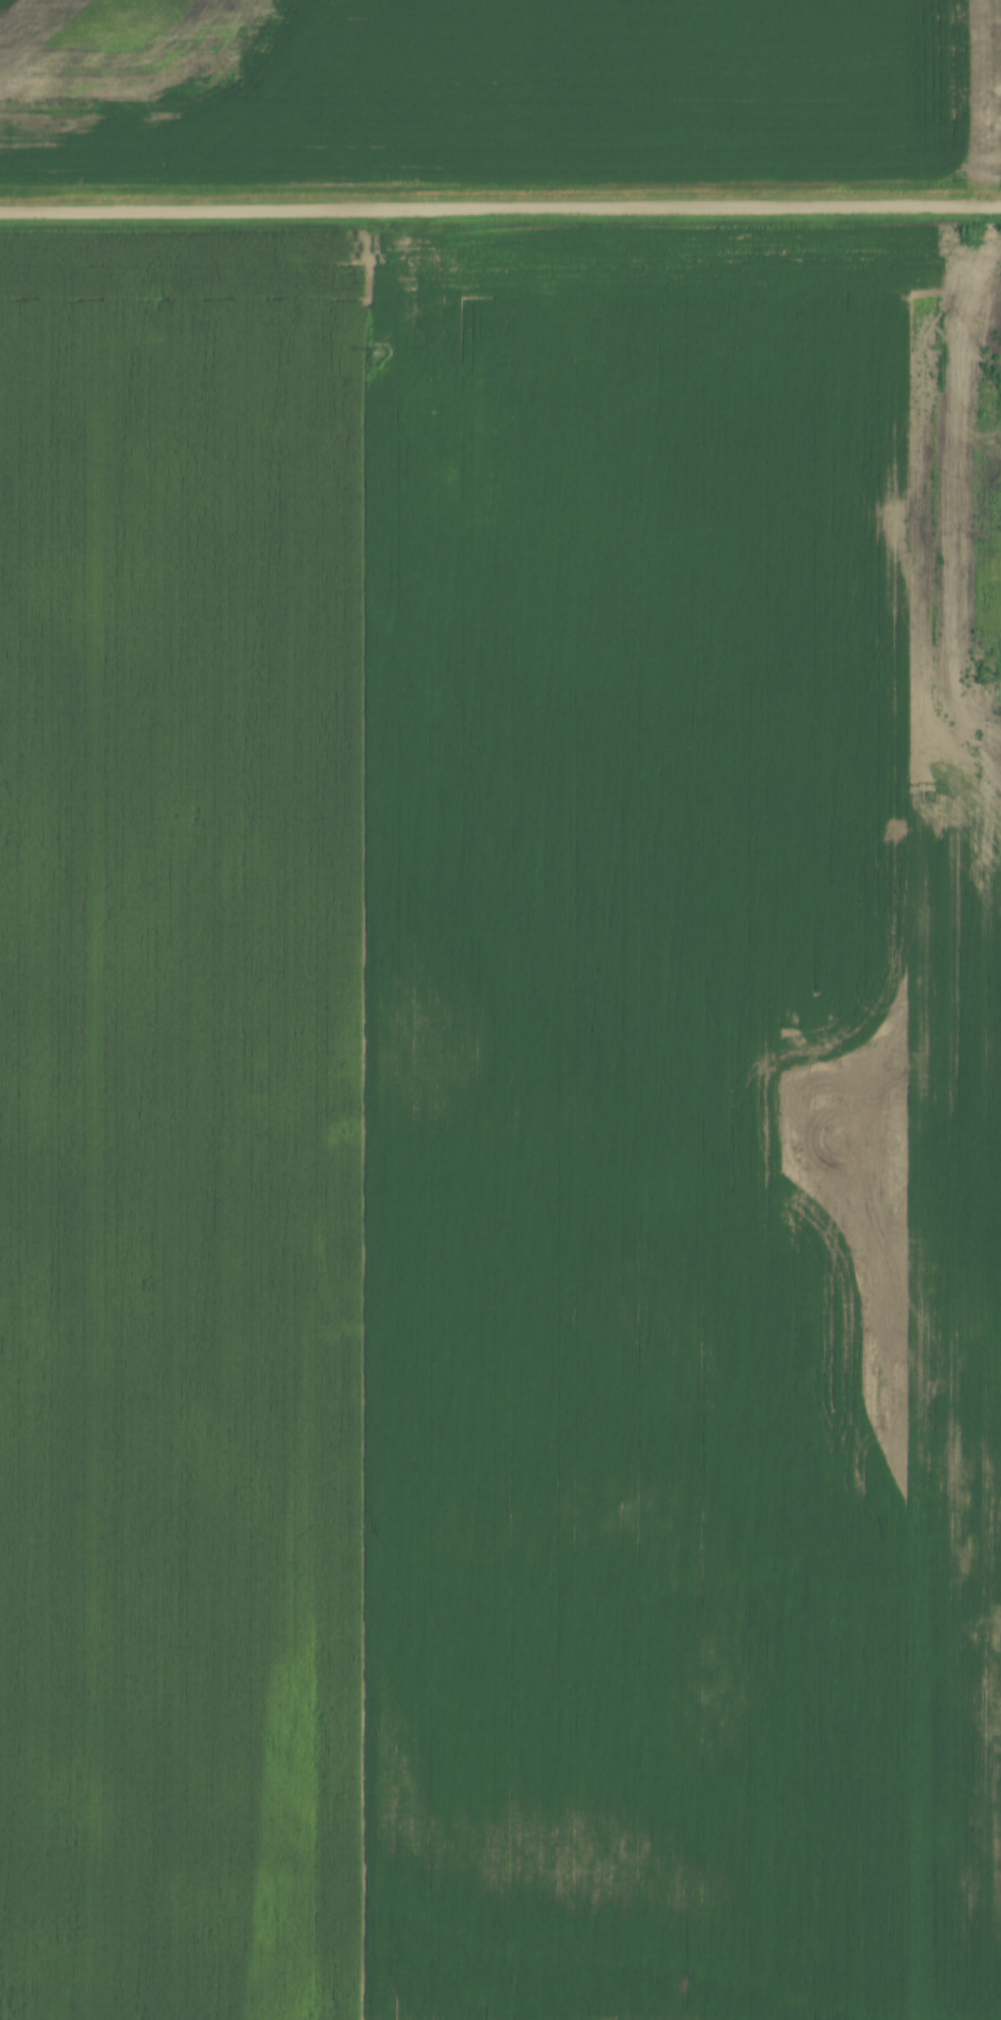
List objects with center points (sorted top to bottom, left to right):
crop: (497, 93)
road: (500, 208)
crop: (500, 1124)

